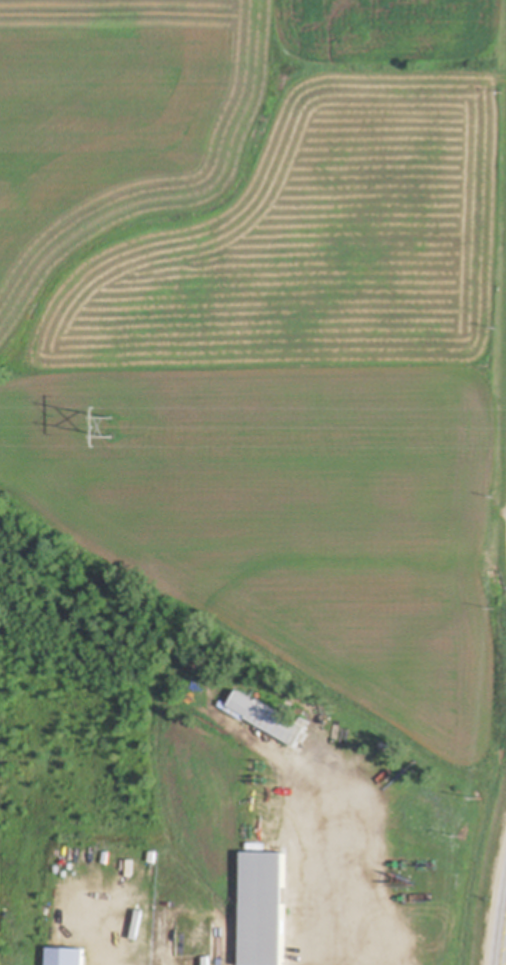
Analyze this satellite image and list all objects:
power tower: (112, 427)
building: (194, 692)
building: (271, 722)
road: (339, 863)
building: (264, 911)
building: (67, 958)

